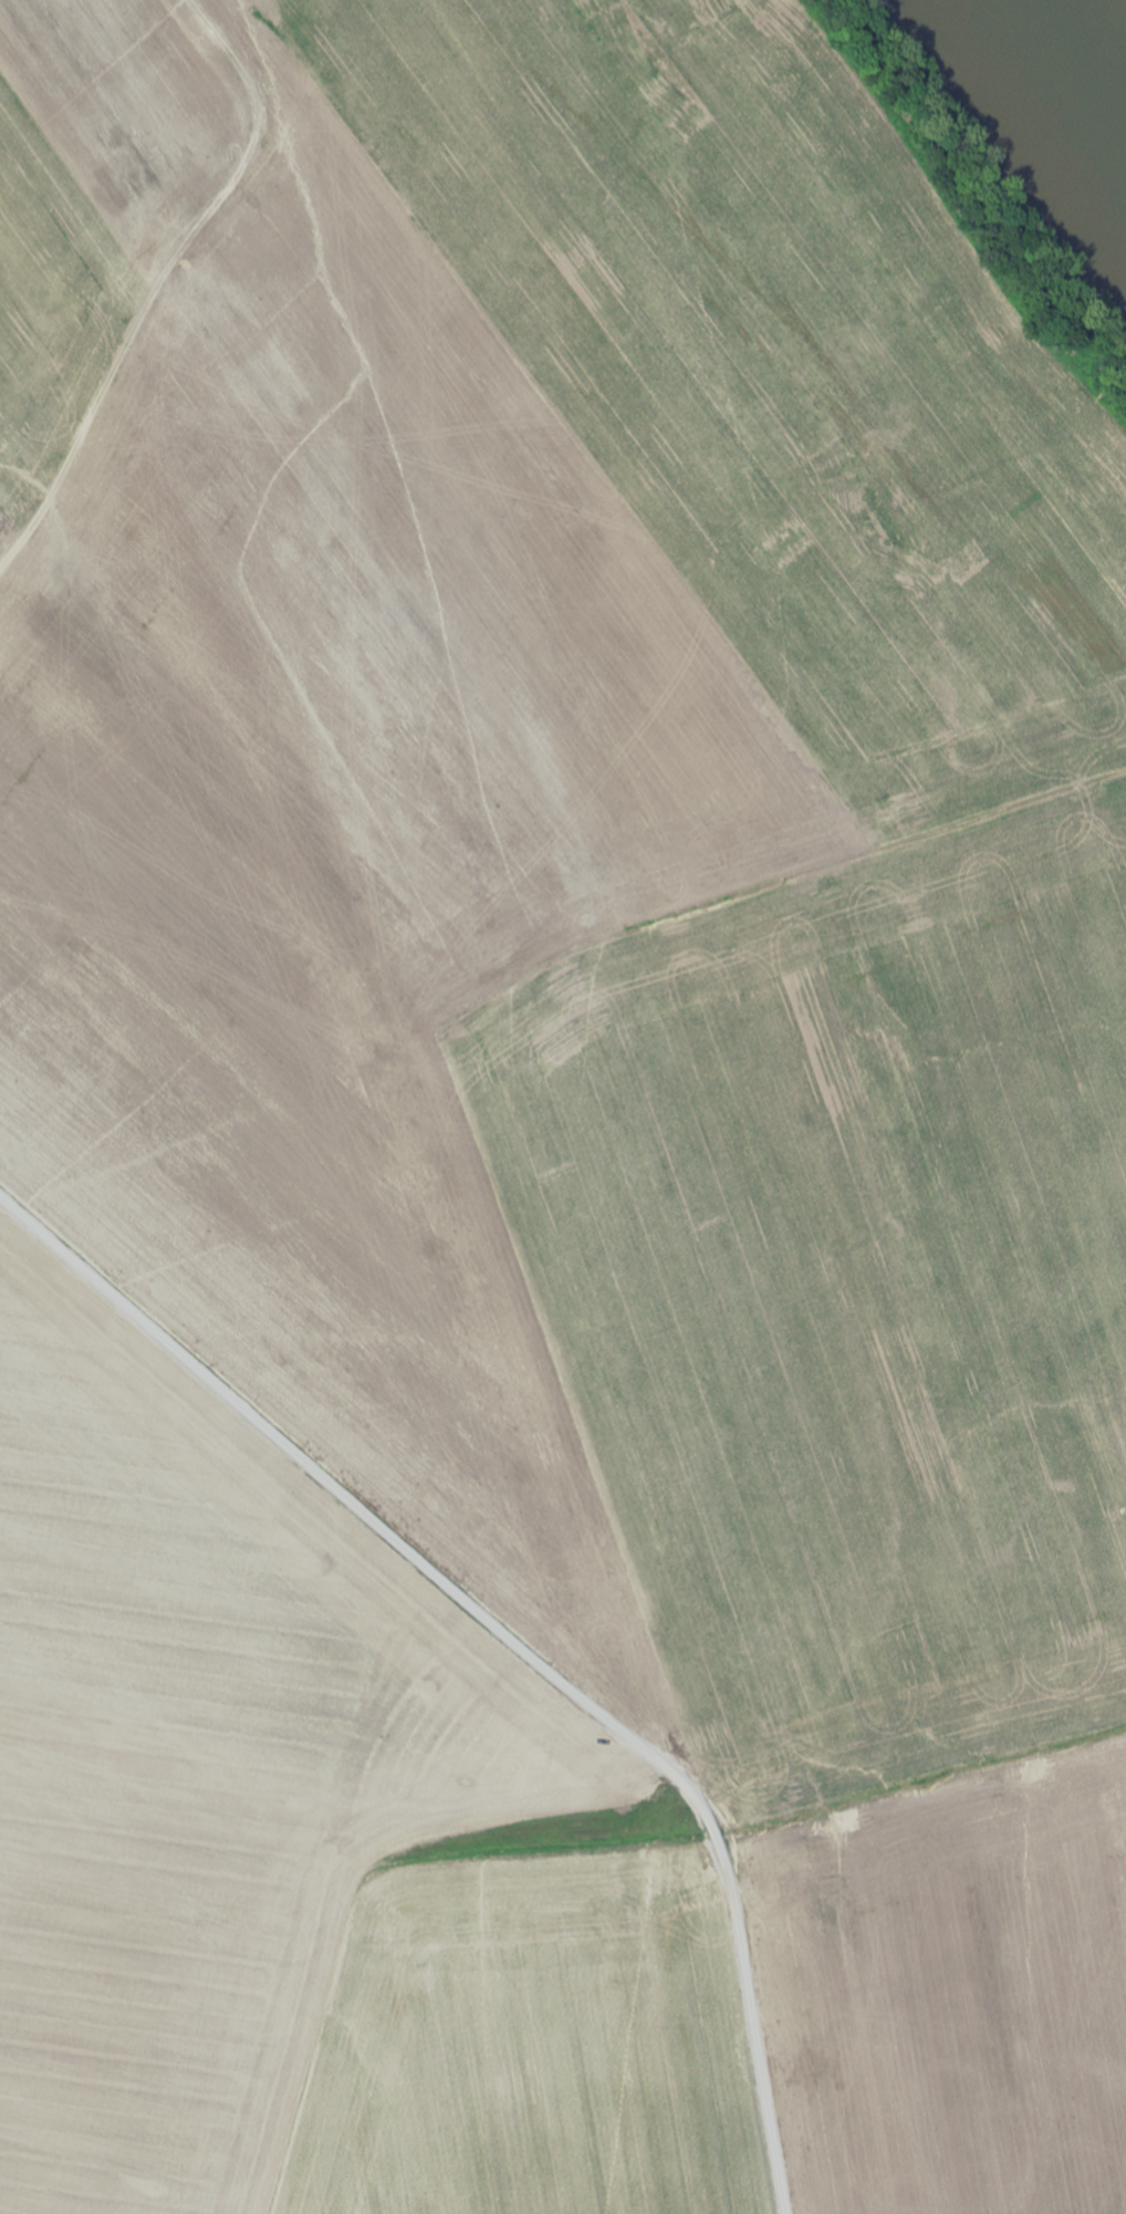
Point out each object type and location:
river: (1081, 66)
road: (331, 1485)
road: (325, 1792)
road: (747, 1983)

